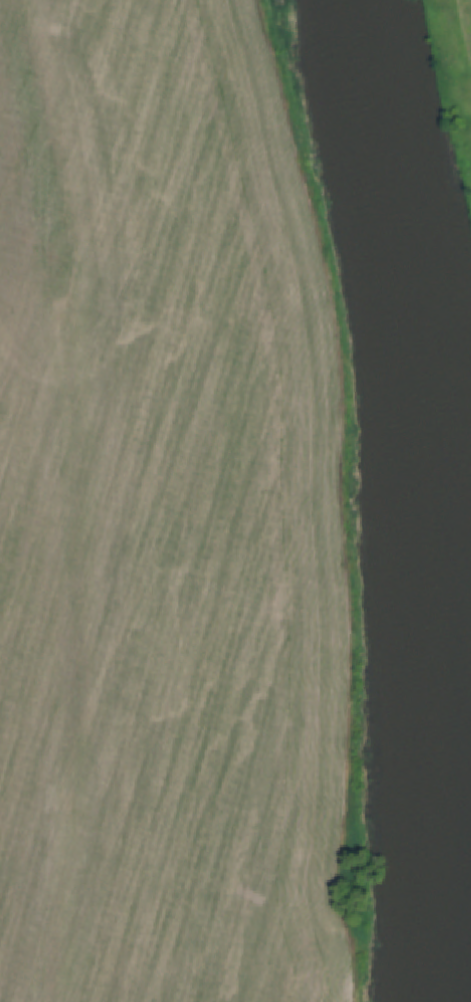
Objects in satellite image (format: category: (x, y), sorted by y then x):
river: (424, 498)

